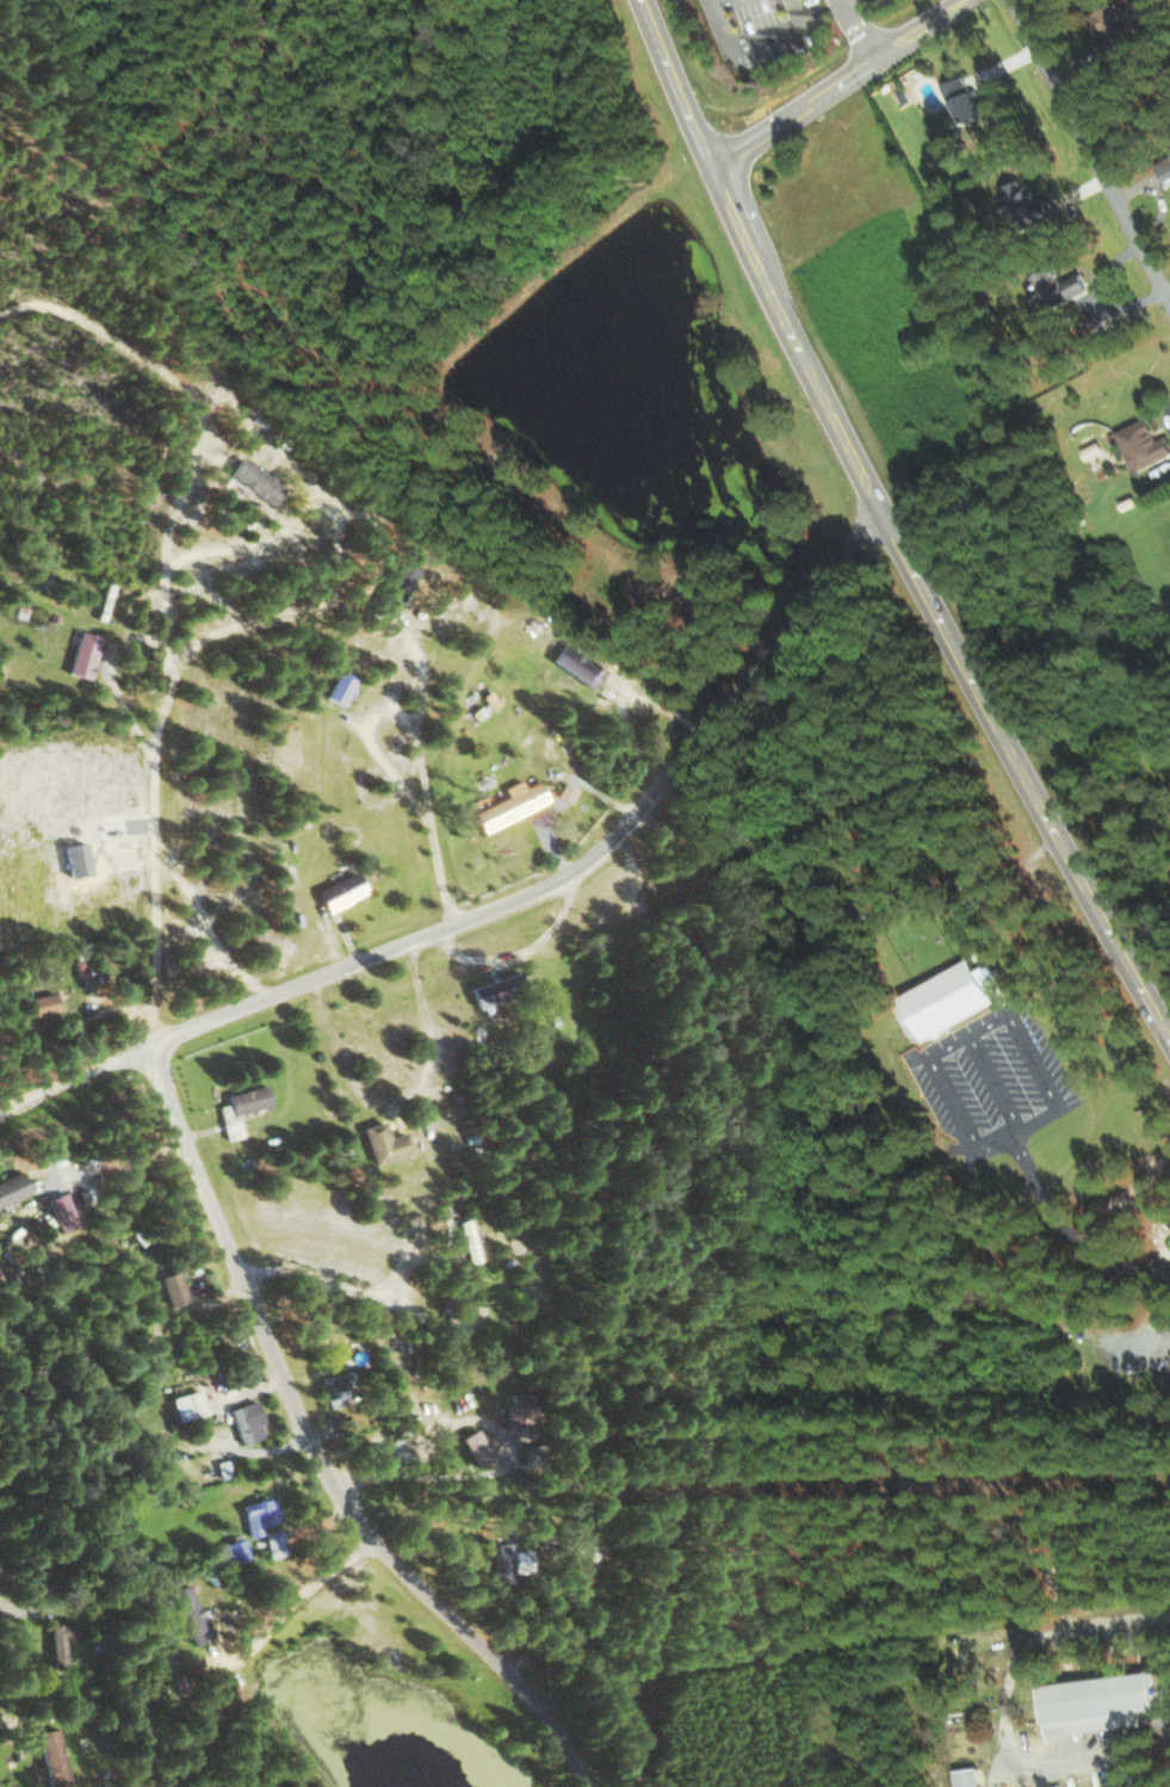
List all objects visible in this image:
building: (1113, 30)
road: (268, 32)
road: (844, 87)
building: (966, 99)
road: (1087, 153)
building: (1166, 169)
building: (1027, 204)
dam: (595, 276)
building: (1058, 287)
road: (1169, 303)
dam: (527, 334)
building: (1143, 444)
building: (1094, 451)
building: (258, 480)
road: (886, 532)
dam: (787, 570)
building: (398, 587)
building: (86, 654)
building: (580, 664)
building: (343, 687)
road: (156, 688)
building: (568, 792)
building: (513, 804)
road: (581, 868)
building: (342, 891)
building: (496, 991)
building: (952, 998)
building: (45, 1004)
road: (78, 1074)
building: (249, 1100)
building: (231, 1124)
building: (386, 1143)
building: (13, 1188)
building: (63, 1212)
building: (93, 1266)
building: (175, 1288)
road: (1134, 1338)
building: (340, 1389)
building: (190, 1404)
building: (248, 1420)
building: (482, 1447)
road: (309, 1452)
building: (261, 1514)
building: (274, 1542)
building: (234, 1551)
building: (510, 1560)
road: (30, 1612)
building: (192, 1614)
road: (1163, 1614)
building: (61, 1640)
road: (1163, 1655)
building: (1097, 1701)
road: (1004, 1712)
building: (54, 1757)
building: (970, 1776)

